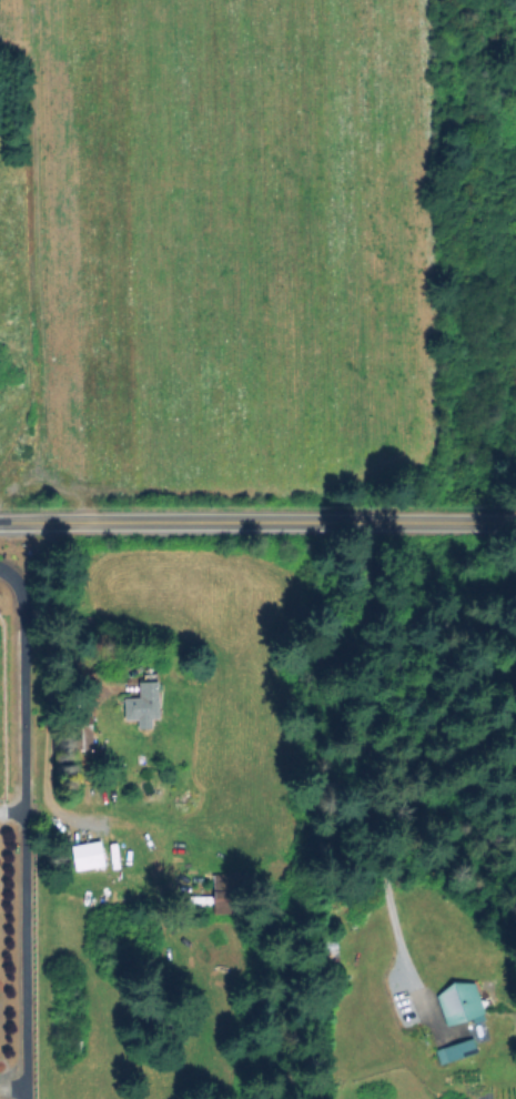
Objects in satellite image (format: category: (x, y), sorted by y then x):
road: (257, 517)
building: (142, 706)
road: (351, 764)
road: (10, 813)
road: (21, 829)
building: (85, 856)
building: (458, 1005)
building: (454, 1052)

